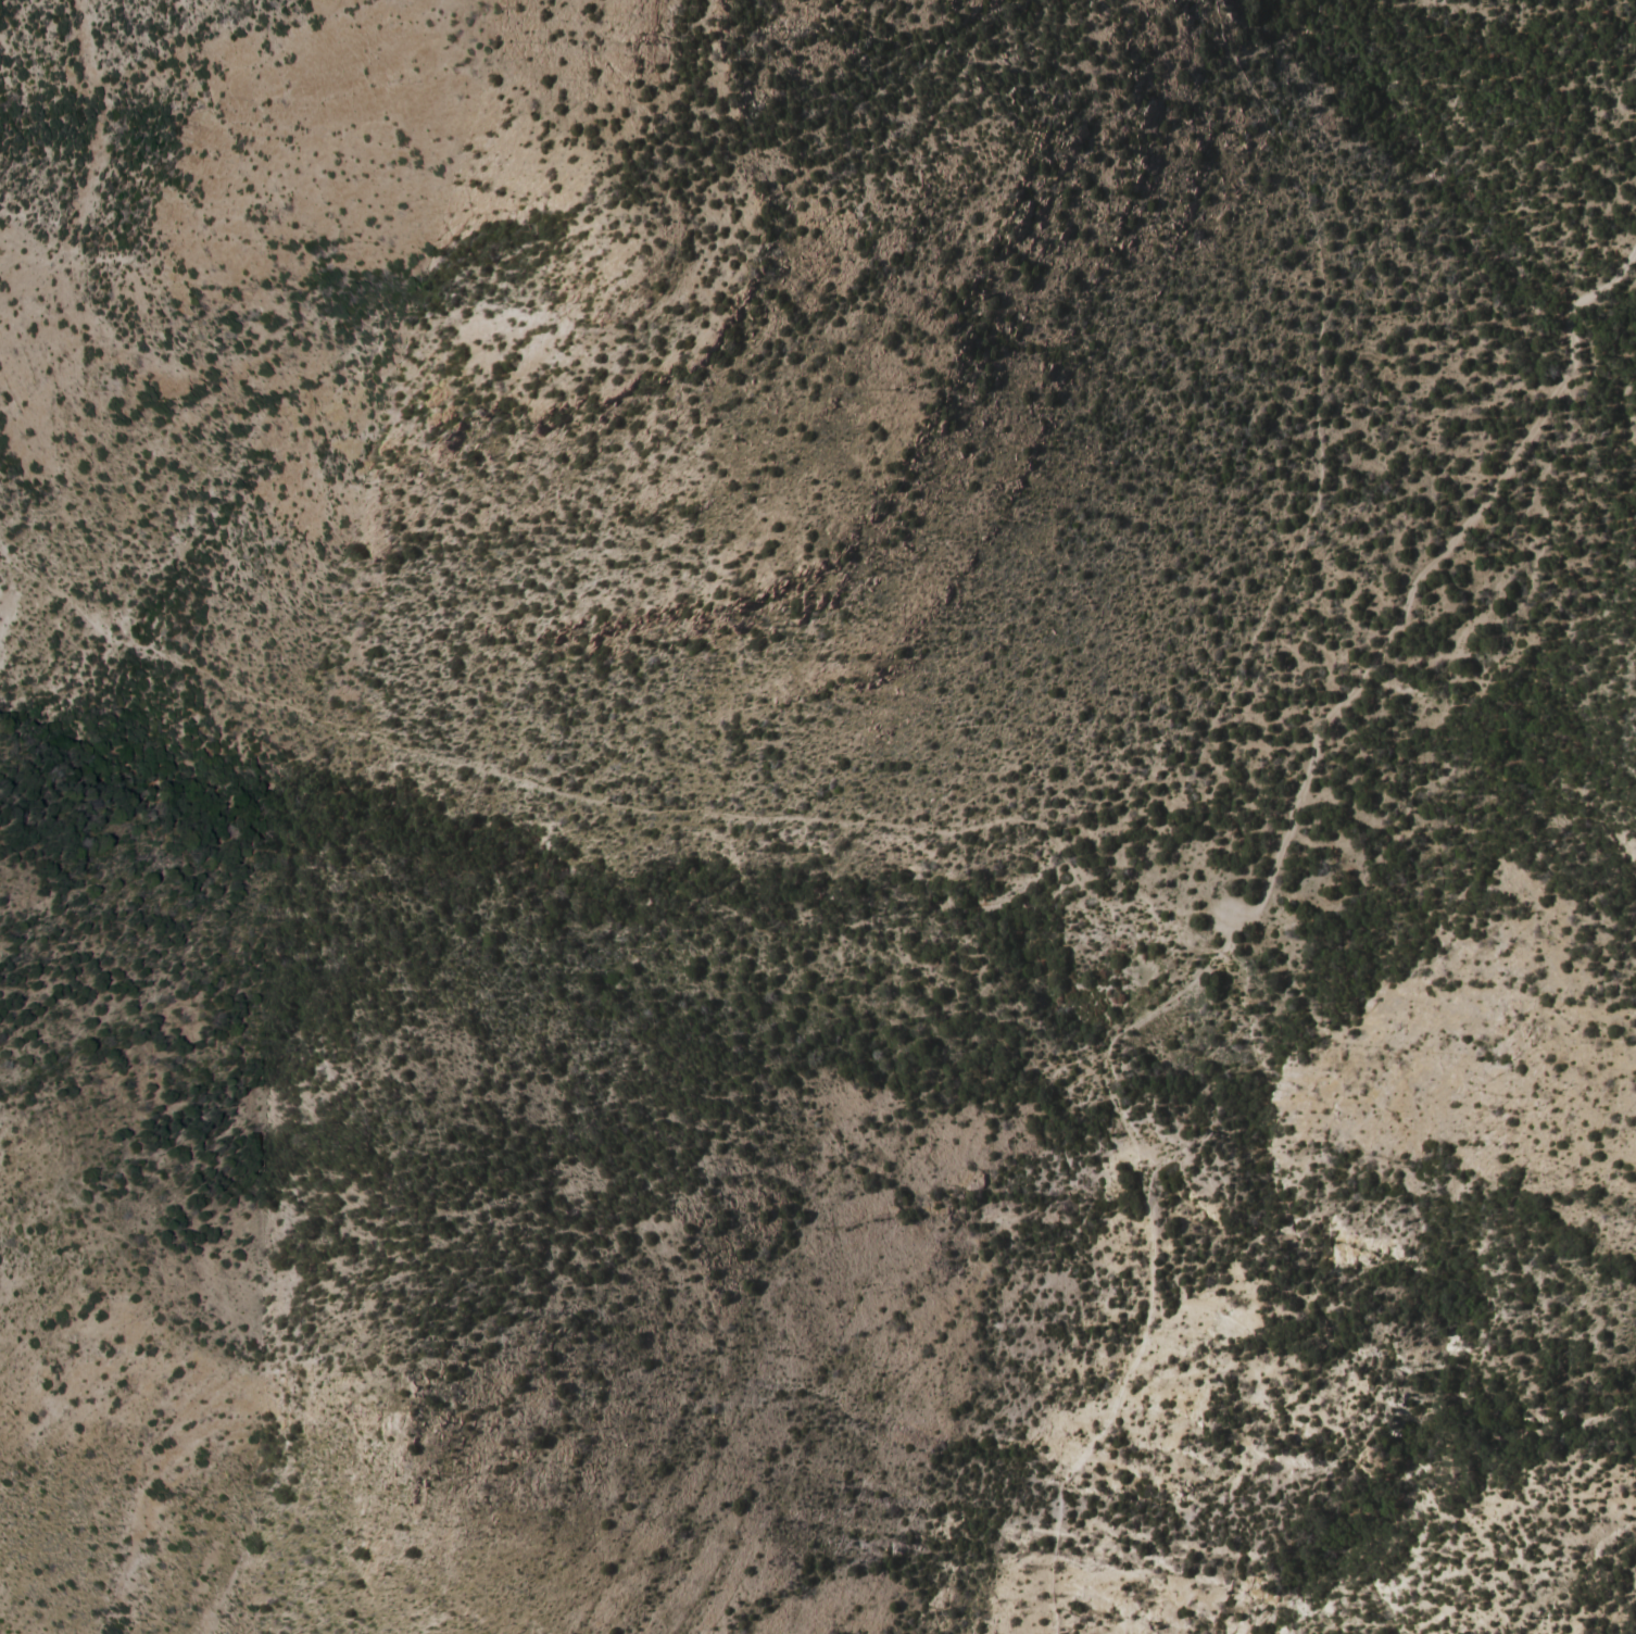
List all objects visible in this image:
road: (1420, 566)
road: (609, 804)
road: (1145, 1258)

